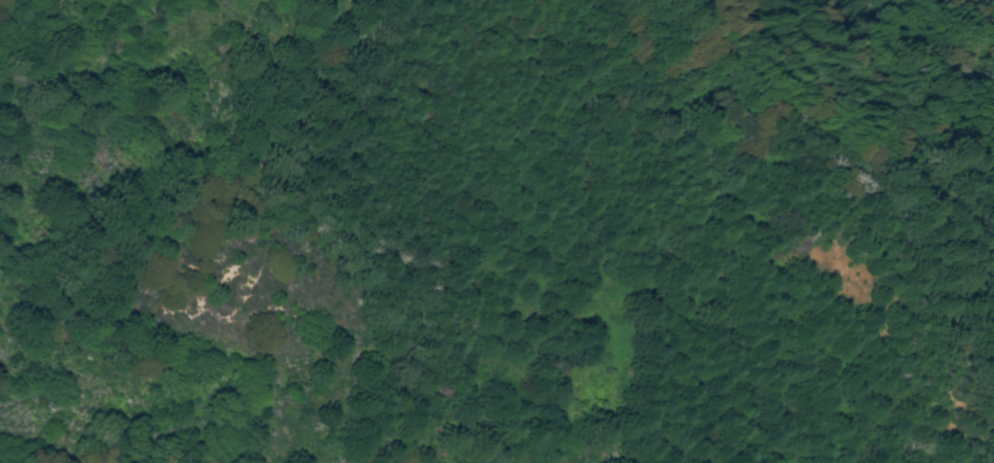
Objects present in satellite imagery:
road: (683, 175)

